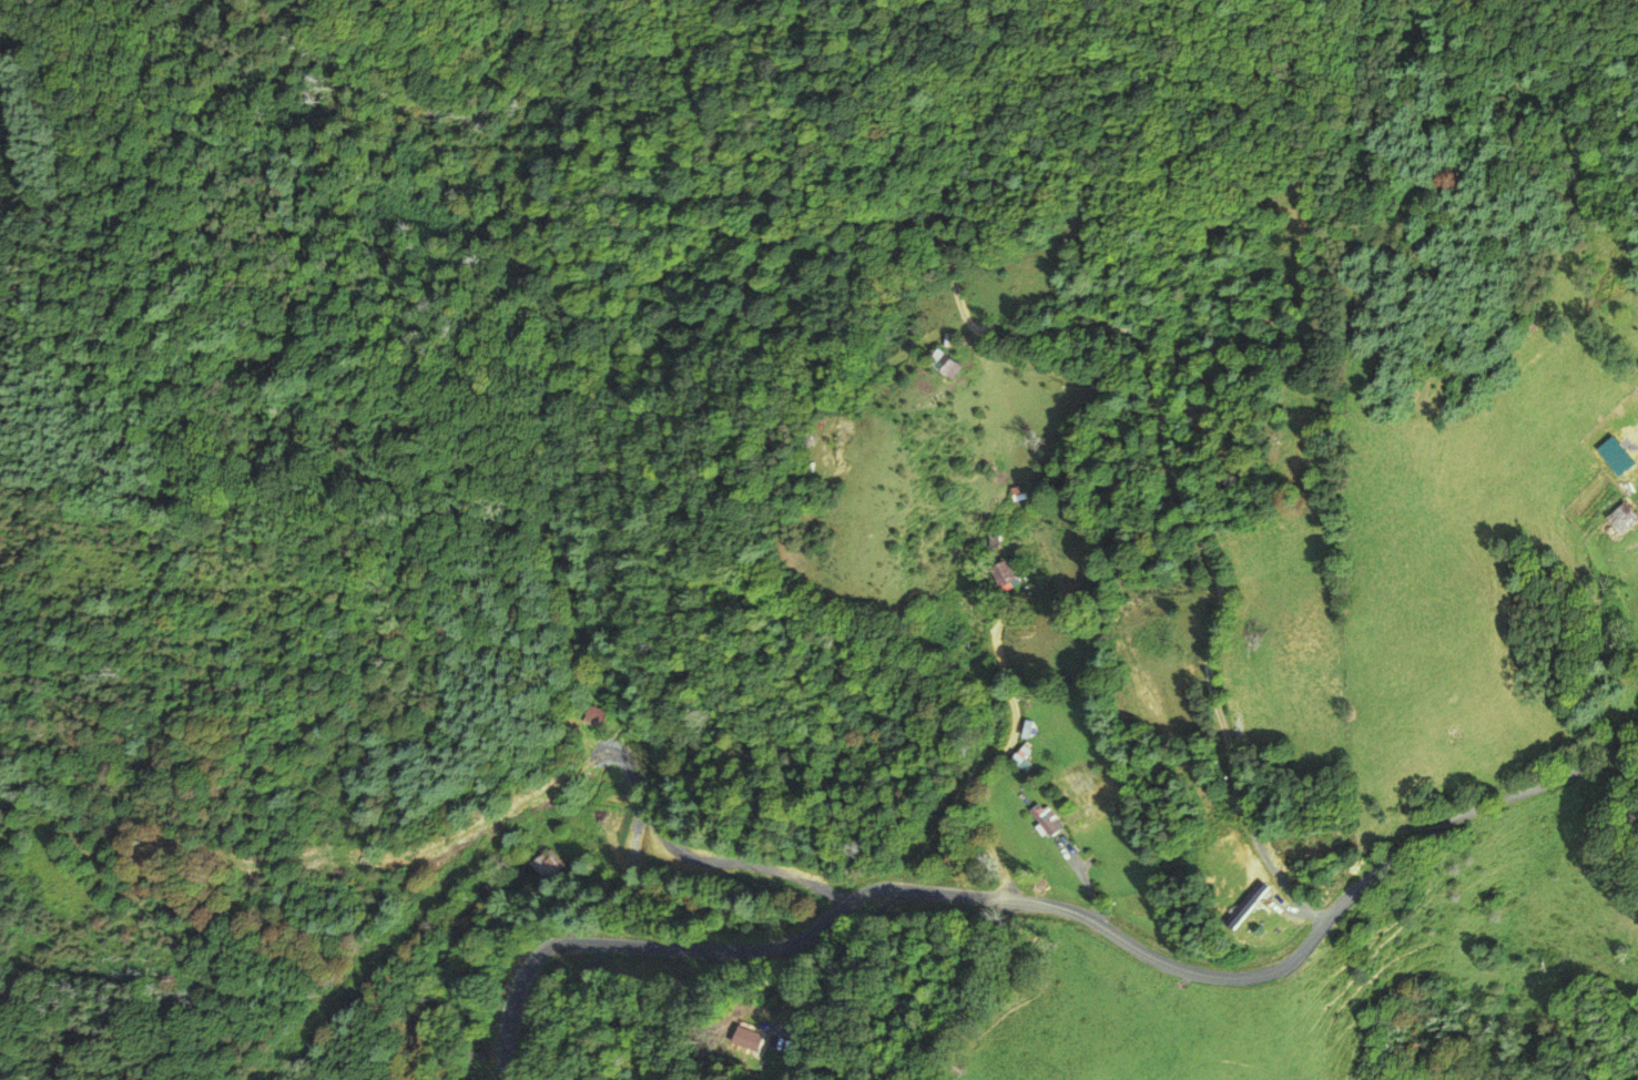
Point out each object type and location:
road: (985, 332)
building: (944, 363)
road: (891, 364)
building: (1023, 491)
building: (1618, 521)
building: (1004, 575)
building: (589, 715)
road: (938, 780)
building: (1045, 821)
building: (847, 863)
building: (543, 865)
road: (1060, 907)

